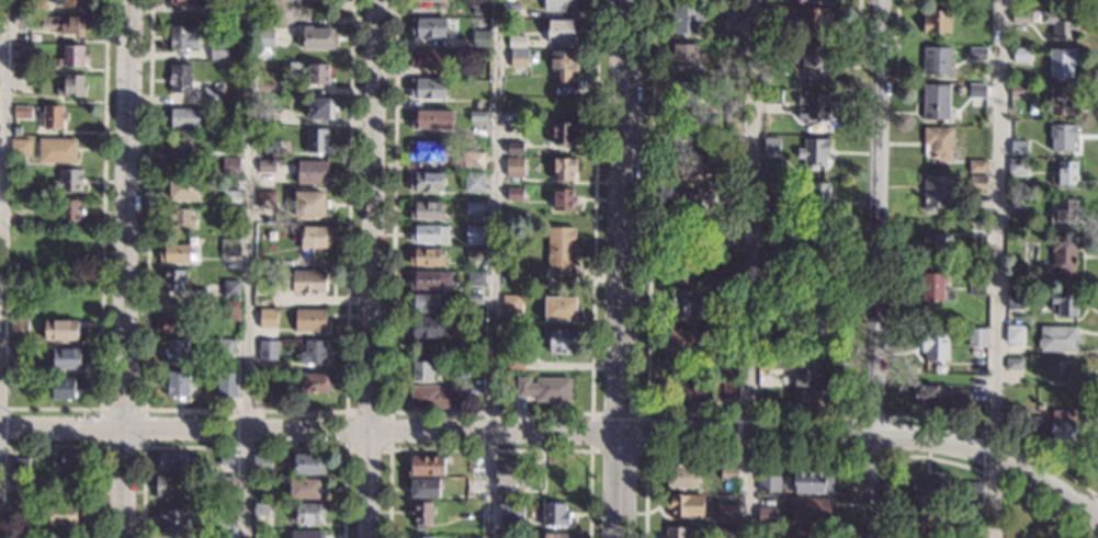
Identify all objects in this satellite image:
building: (186, 1)
building: (69, 2)
building: (439, 2)
building: (559, 4)
building: (37, 5)
building: (265, 7)
building: (480, 7)
building: (510, 9)
building: (235, 11)
building: (734, 11)
building: (774, 12)
building: (688, 15)
building: (1021, 16)
road: (860, 19)
building: (20, 20)
building: (814, 20)
building: (937, 20)
building: (1062, 22)
building: (264, 23)
building: (476, 23)
building: (64, 24)
building: (428, 27)
building: (562, 31)
building: (183, 37)
building: (317, 37)
building: (480, 37)
building: (265, 38)
road: (878, 38)
road: (896, 39)
building: (517, 42)
building: (773, 48)
building: (218, 50)
building: (735, 50)
building: (977, 53)
building: (1021, 54)
building: (451, 55)
building: (684, 55)
building: (72, 56)
building: (812, 56)
building: (518, 57)
building: (428, 58)
building: (937, 61)
building: (1062, 62)
building: (23, 67)
building: (564, 67)
building: (318, 73)
building: (180, 77)
building: (765, 83)
building: (71, 85)
building: (264, 87)
building: (428, 88)
building: (976, 90)
building: (1019, 90)
building: (732, 92)
building: (684, 93)
building: (213, 95)
building: (773, 95)
building: (1062, 100)
building: (936, 102)
building: (988, 102)
building: (475, 105)
building: (814, 105)
building: (321, 108)
building: (22, 112)
building: (263, 114)
building: (52, 116)
building: (478, 116)
building: (184, 118)
building: (431, 118)
building: (734, 124)
building: (219, 127)
building: (688, 130)
building: (564, 131)
building: (1063, 136)
building: (317, 140)
building: (272, 141)
building: (938, 142)
building: (771, 146)
building: (20, 147)
building: (514, 147)
building: (1019, 148)
building: (57, 150)
building: (427, 150)
building: (814, 151)
building: (180, 153)
building: (279, 156)
building: (734, 159)
building: (473, 160)
building: (230, 164)
building: (267, 165)
building: (978, 165)
building: (1018, 165)
building: (513, 168)
building: (565, 168)
building: (687, 169)
building: (312, 171)
building: (1066, 173)
building: (68, 180)
building: (428, 181)
building: (474, 181)
building: (977, 183)
building: (771, 185)
building: (19, 186)
building: (183, 188)
building: (937, 191)
building: (514, 193)
building: (818, 194)
building: (231, 197)
building: (564, 198)
building: (265, 199)
building: (734, 203)
building: (21, 204)
building: (310, 204)
building: (684, 205)
building: (1017, 205)
building: (474, 207)
building: (69, 210)
building: (427, 210)
building: (1065, 213)
building: (181, 217)
building: (739, 220)
building: (224, 230)
road: (1, 232)
building: (428, 233)
building: (473, 233)
building: (42, 237)
building: (315, 237)
building: (692, 238)
building: (733, 238)
building: (771, 238)
building: (815, 238)
building: (977, 239)
building: (21, 240)
building: (65, 240)
building: (936, 244)
building: (229, 247)
road: (103, 253)
building: (176, 253)
building: (294, 253)
building: (474, 253)
building: (561, 253)
building: (1064, 255)
building: (427, 256)
building: (732, 265)
road: (127, 268)
road: (372, 268)
road: (622, 268)
road: (751, 268)
road: (872, 268)
road: (998, 268)
building: (683, 270)
building: (976, 271)
building: (475, 277)
road: (493, 278)
building: (174, 279)
building: (430, 279)
building: (1016, 279)
building: (299, 281)
building: (977, 284)
building: (936, 287)
building: (230, 288)
building: (15, 295)
building: (732, 298)
building: (474, 299)
building: (1015, 299)
building: (425, 302)
building: (682, 302)
building: (511, 304)
building: (1065, 304)
building: (561, 307)
building: (230, 310)
building: (817, 313)
building: (268, 318)
building: (309, 320)
building: (173, 322)
building: (426, 327)
building: (19, 328)
building: (61, 329)
road: (248, 333)
building: (1015, 333)
building: (727, 335)
building: (977, 336)
building: (1057, 339)
building: (562, 342)
building: (682, 345)
building: (936, 345)
building: (225, 347)
building: (268, 350)
building: (469, 350)
building: (177, 351)
building: (313, 352)
building: (19, 356)
building: (67, 358)
building: (781, 359)
building: (514, 360)
building: (1015, 364)
building: (474, 368)
building: (423, 369)
building: (1061, 370)
building: (808, 379)
building: (21, 382)
building: (316, 382)
building: (178, 384)
building: (227, 385)
building: (63, 388)
building: (545, 388)
building: (729, 389)
building: (688, 390)
building: (433, 397)
building: (939, 397)
road: (247, 408)
road: (494, 411)
road: (647, 413)
road: (675, 414)
building: (1053, 427)
road: (558, 432)
road: (95, 445)
road: (143, 446)
road: (242, 447)
road: (389, 448)
road: (490, 450)
road: (836, 456)
building: (225, 458)
building: (67, 459)
building: (171, 460)
building: (262, 462)
building: (308, 463)
building: (19, 465)
building: (426, 465)
building: (729, 473)
building: (516, 476)
building: (682, 476)
building: (225, 481)
building: (813, 481)
building: (39, 482)
building: (769, 482)
building: (260, 483)
building: (14, 484)
building: (172, 485)
building: (928, 485)
building: (304, 488)
building: (425, 488)
building: (973, 490)
building: (518, 497)
building: (21, 505)
building: (686, 505)
building: (464, 506)
building: (973, 507)
building: (261, 508)
building: (808, 510)
building: (510, 511)
building: (308, 513)
building: (728, 513)
building: (66, 514)
building: (421, 514)
building: (556, 514)
building: (767, 515)
building: (219, 517)
building: (922, 517)
building: (174, 520)
building: (677, 531)
building: (727, 531)
building: (307, 534)
building: (808, 534)
building: (554, 535)
building: (422, 537)

